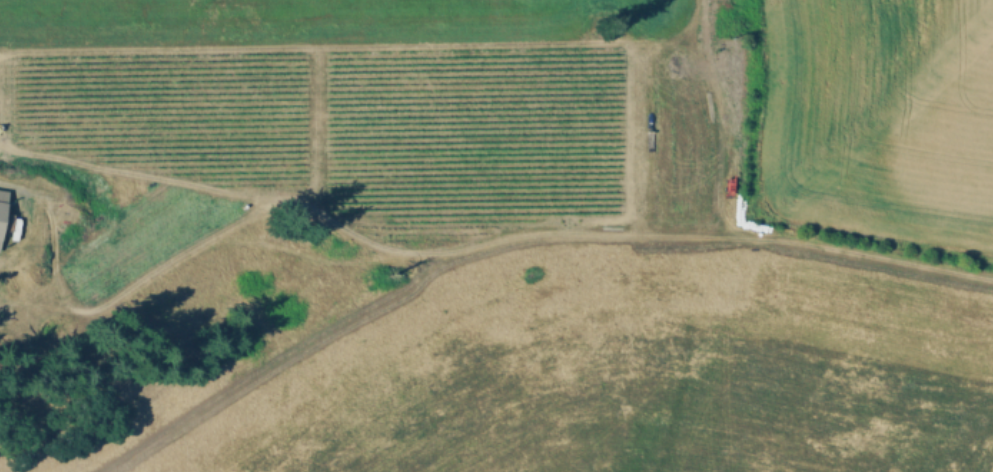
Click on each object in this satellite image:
road: (714, 109)
crop: (880, 115)
building: (3, 214)
crop: (505, 247)
road: (424, 255)

